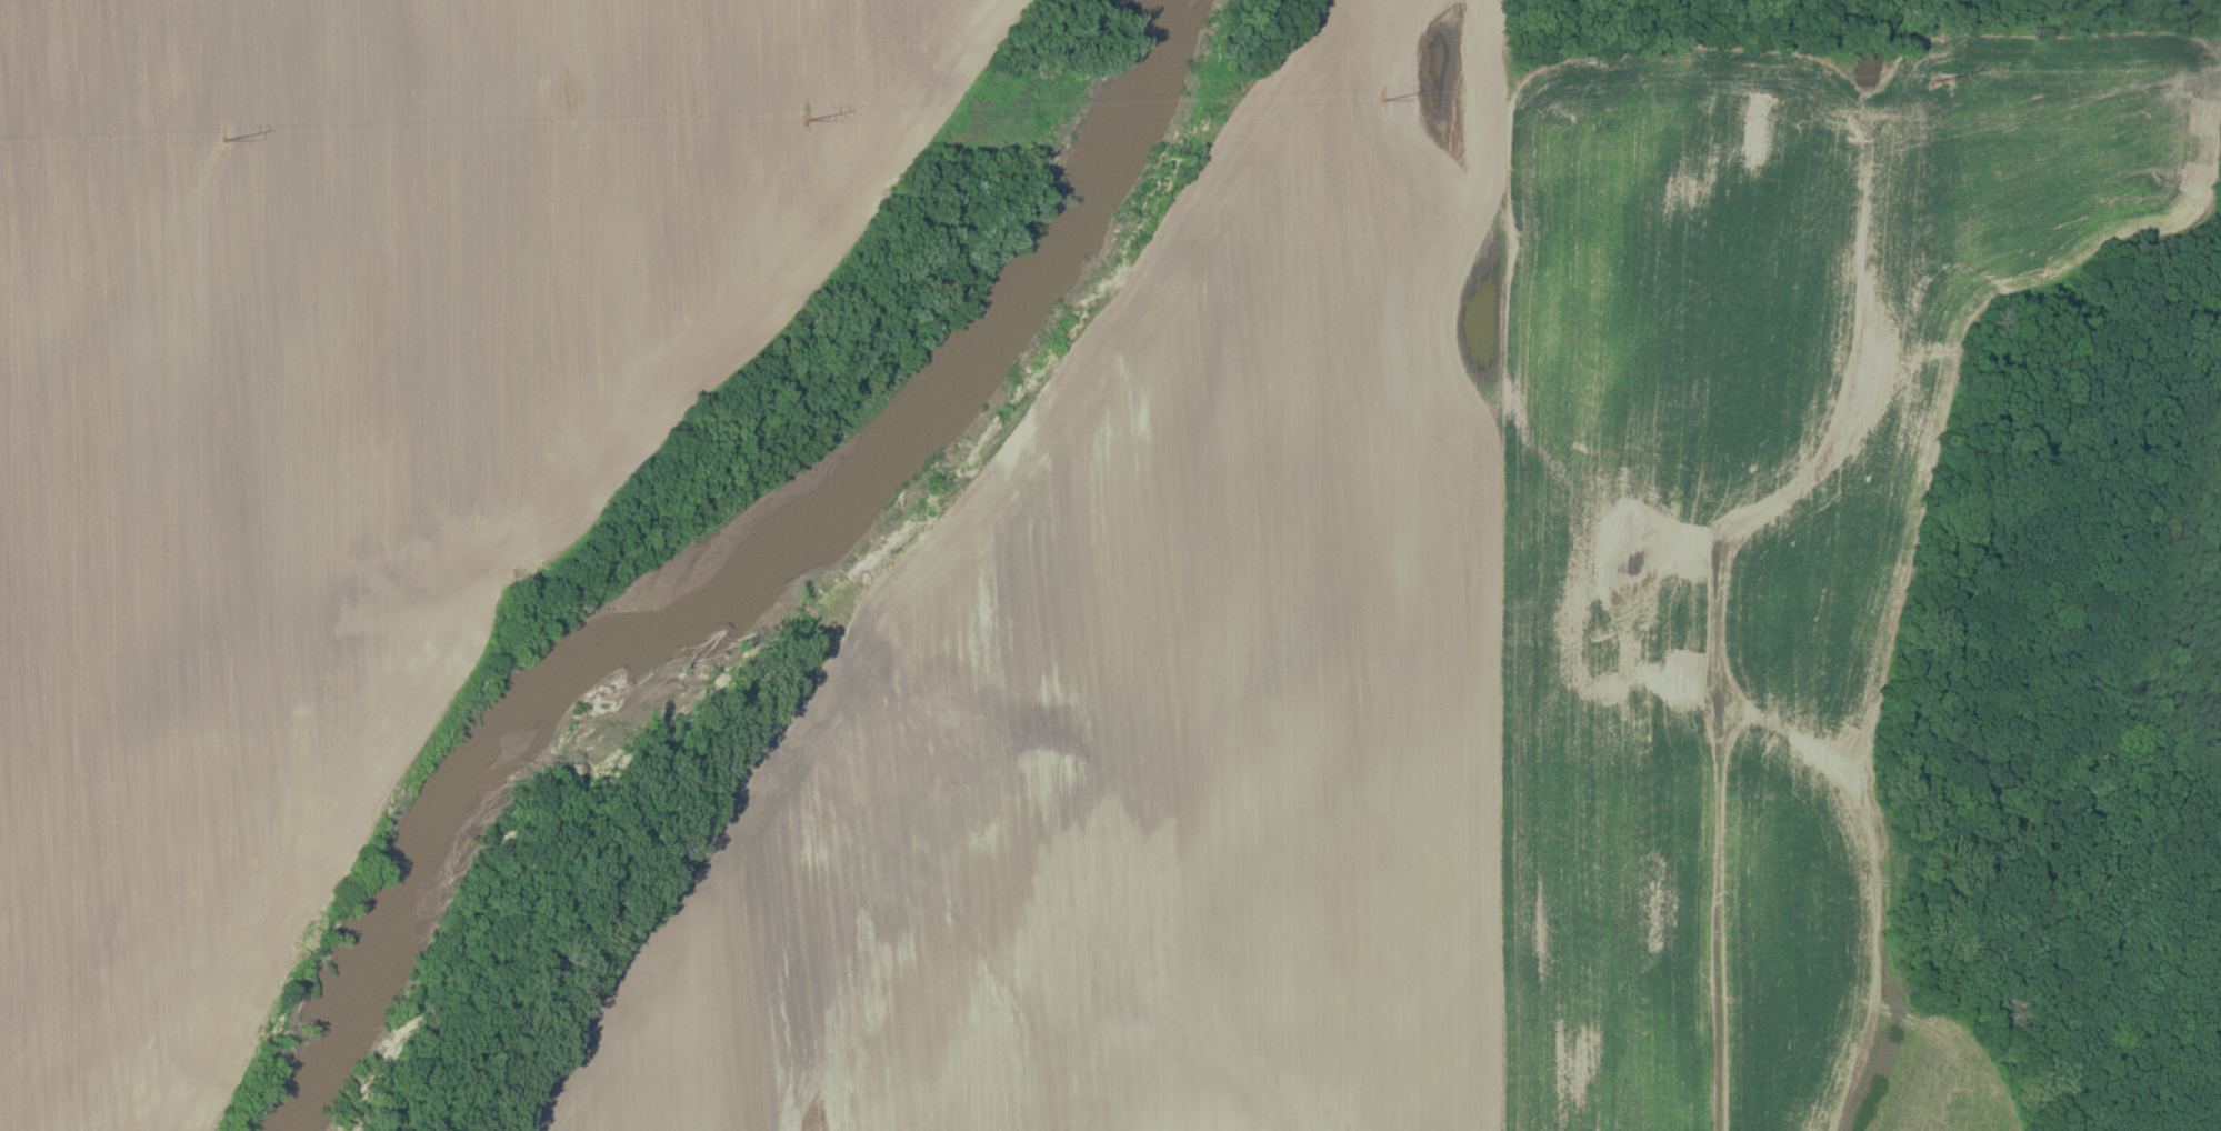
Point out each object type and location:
river: (711, 546)

